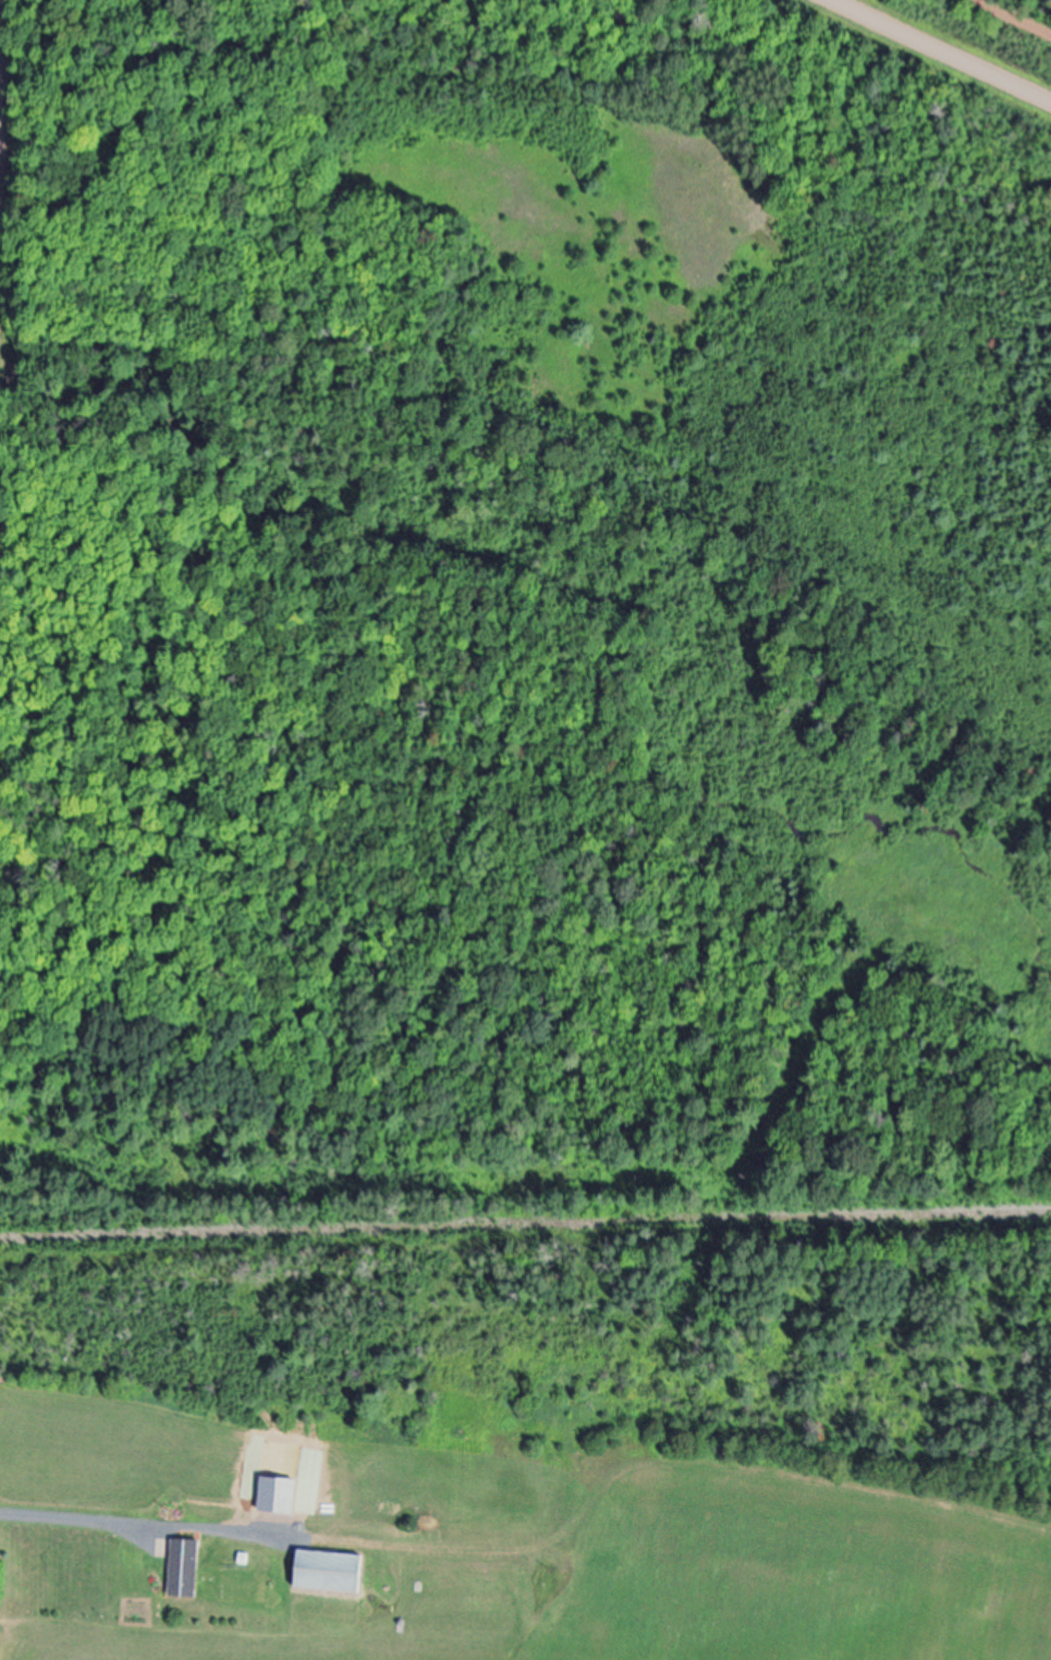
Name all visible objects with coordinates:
road: (1019, 14)
road: (943, 50)
railway: (525, 1225)
road: (187, 1529)
building: (191, 1570)
building: (334, 1573)

